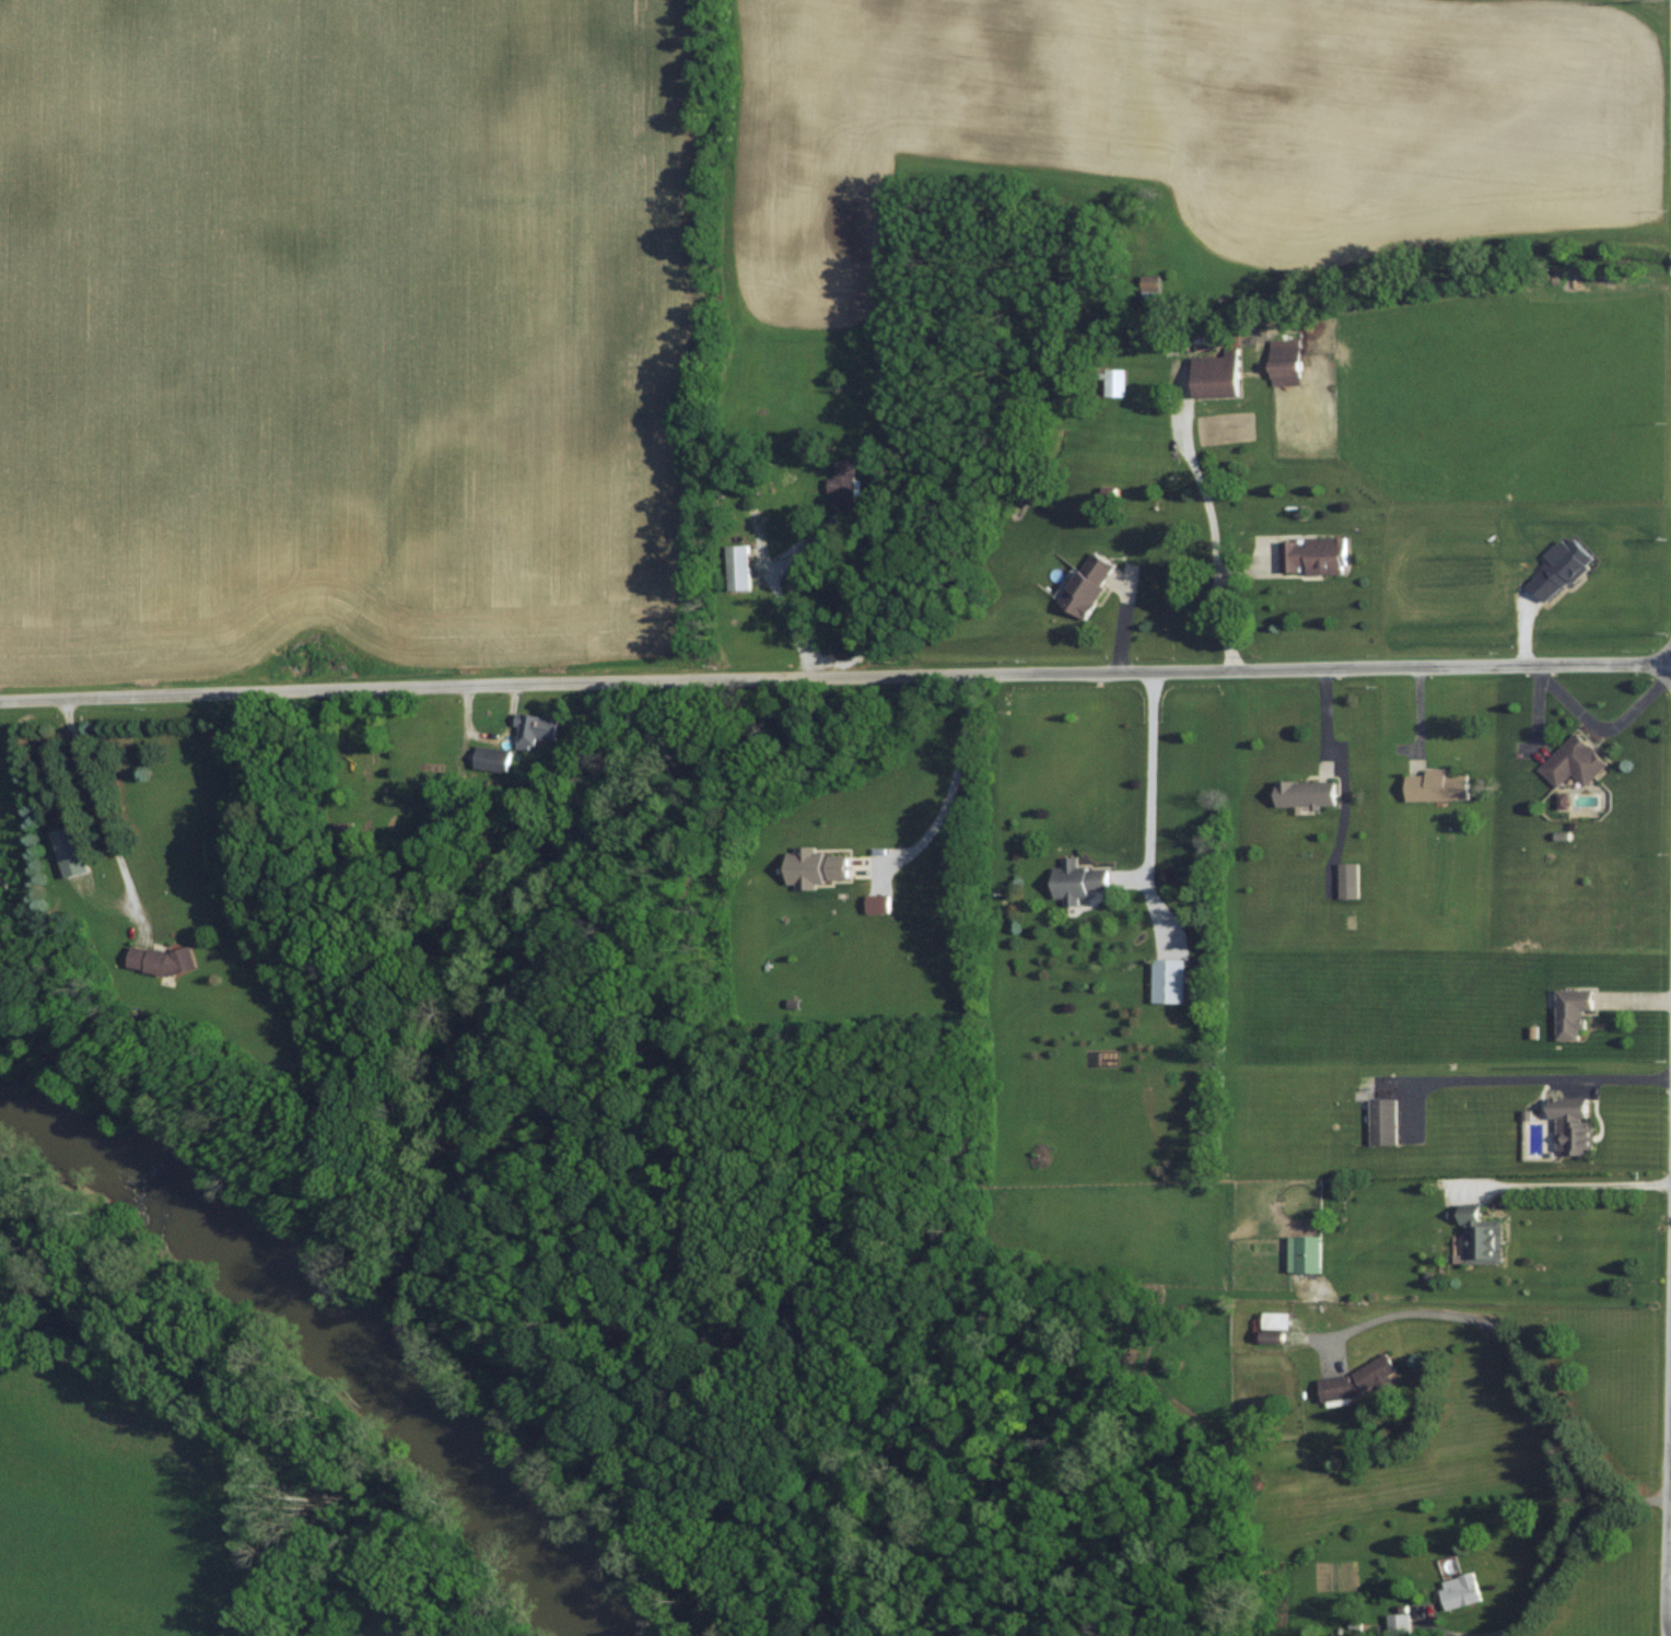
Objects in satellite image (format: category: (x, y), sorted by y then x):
building: (1287, 361)
building: (1219, 375)
building: (1117, 381)
building: (844, 477)
road: (1211, 539)
building: (1316, 554)
building: (740, 566)
building: (1091, 582)
road: (779, 594)
road: (1234, 669)
road: (398, 689)
building: (537, 733)
building: (493, 759)
building: (1576, 760)
road: (948, 783)
building: (1440, 785)
building: (1309, 793)
road: (95, 805)
road: (1147, 810)
building: (72, 851)
building: (1351, 875)
building: (1080, 880)
building: (184, 960)
building: (1170, 980)
building: (1576, 1012)
road: (1521, 1079)
building: (1387, 1122)
road: (1568, 1185)
building: (1484, 1236)
building: (1309, 1253)
road: (1663, 1305)
building: (1289, 1320)
river: (314, 1355)
building: (1362, 1379)
road: (1562, 1566)
building: (1463, 1590)

